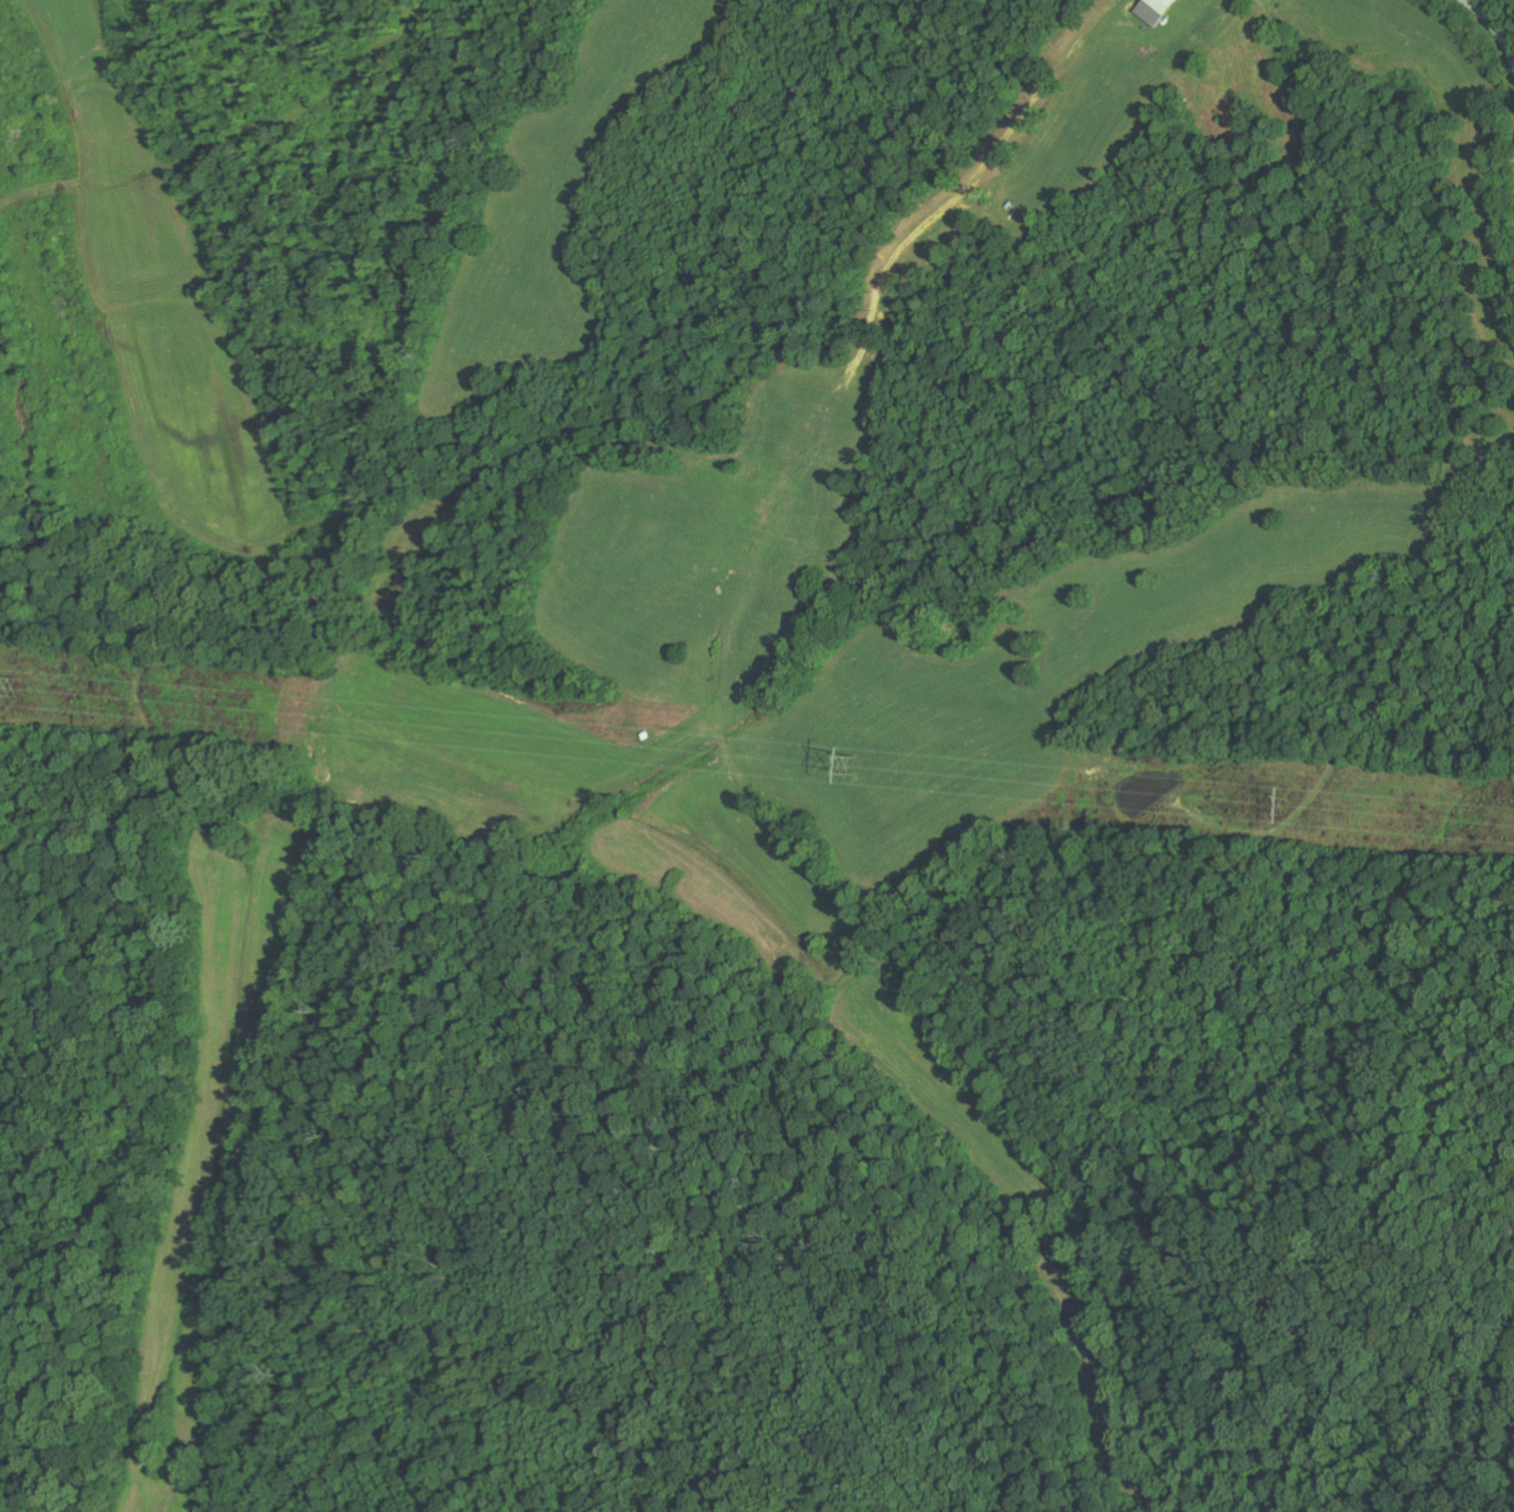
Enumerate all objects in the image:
building: (1151, 10)
road: (1494, 23)
power tower: (18, 684)
power tower: (857, 764)
power tower: (1292, 804)
road: (865, 1421)

